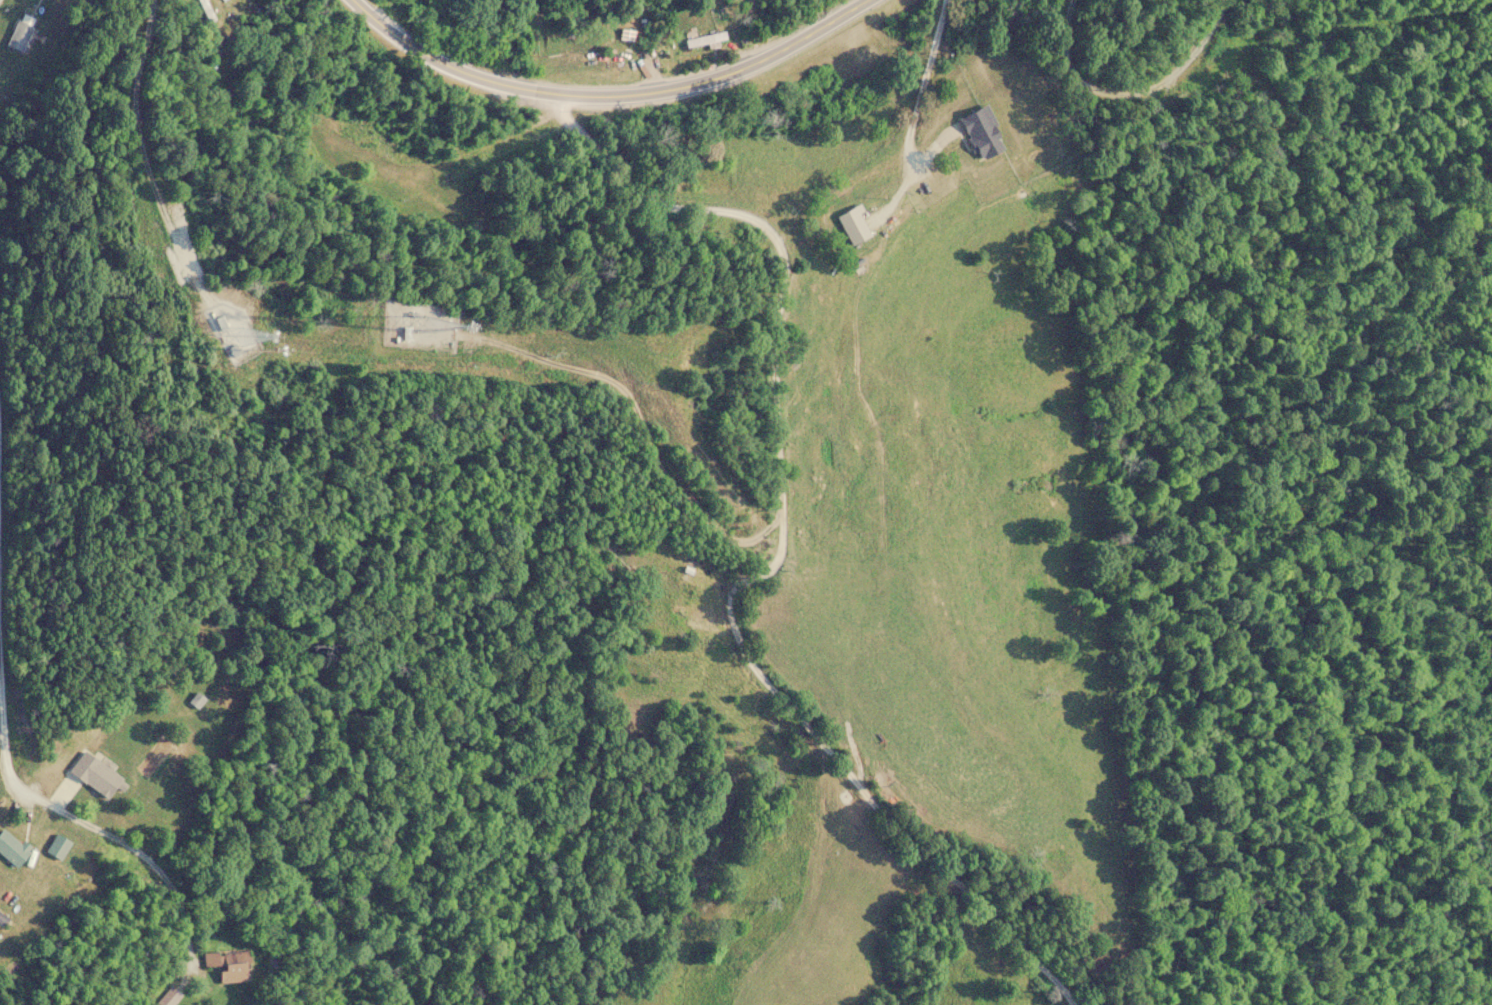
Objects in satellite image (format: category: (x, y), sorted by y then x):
building: (23, 33)
building: (707, 39)
road: (752, 61)
road: (476, 77)
road: (920, 103)
building: (963, 141)
building: (1045, 164)
road: (150, 166)
building: (852, 228)
road: (780, 561)
road: (4, 751)
building: (106, 780)
building: (61, 847)
building: (14, 849)
building: (238, 967)

